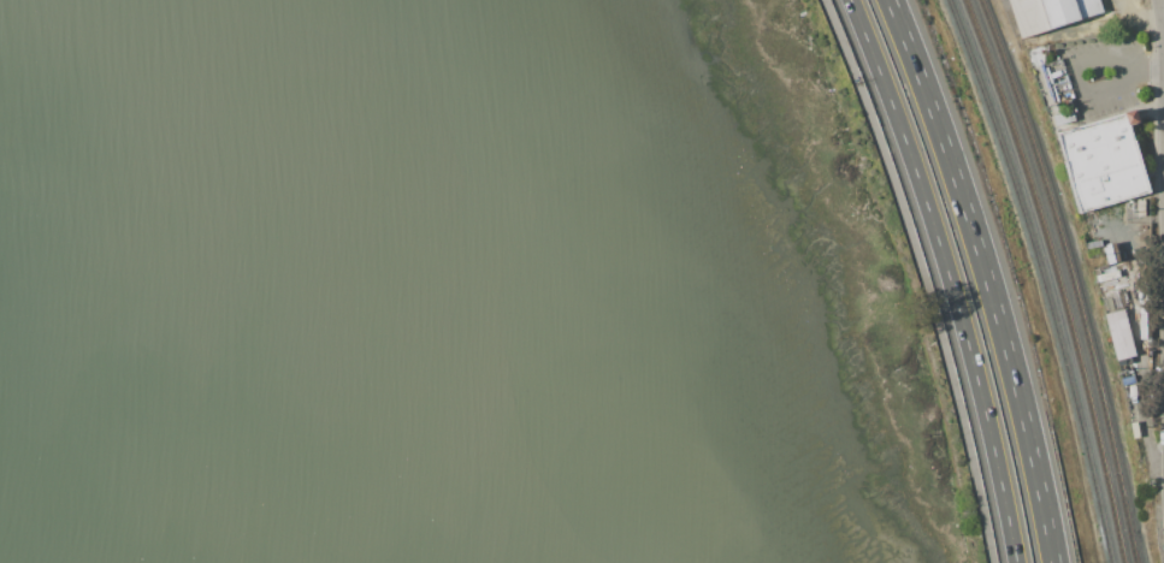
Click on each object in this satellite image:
building: (1050, 13)
road: (1133, 47)
road: (1151, 66)
building: (1063, 115)
road: (902, 136)
building: (1103, 161)
building: (1141, 208)
building: (1144, 231)
road: (922, 277)
road: (986, 277)
railway: (1041, 277)
railway: (1056, 277)
railway: (1071, 277)
building: (1119, 298)
building: (1109, 303)
building: (1119, 334)
road: (985, 417)

